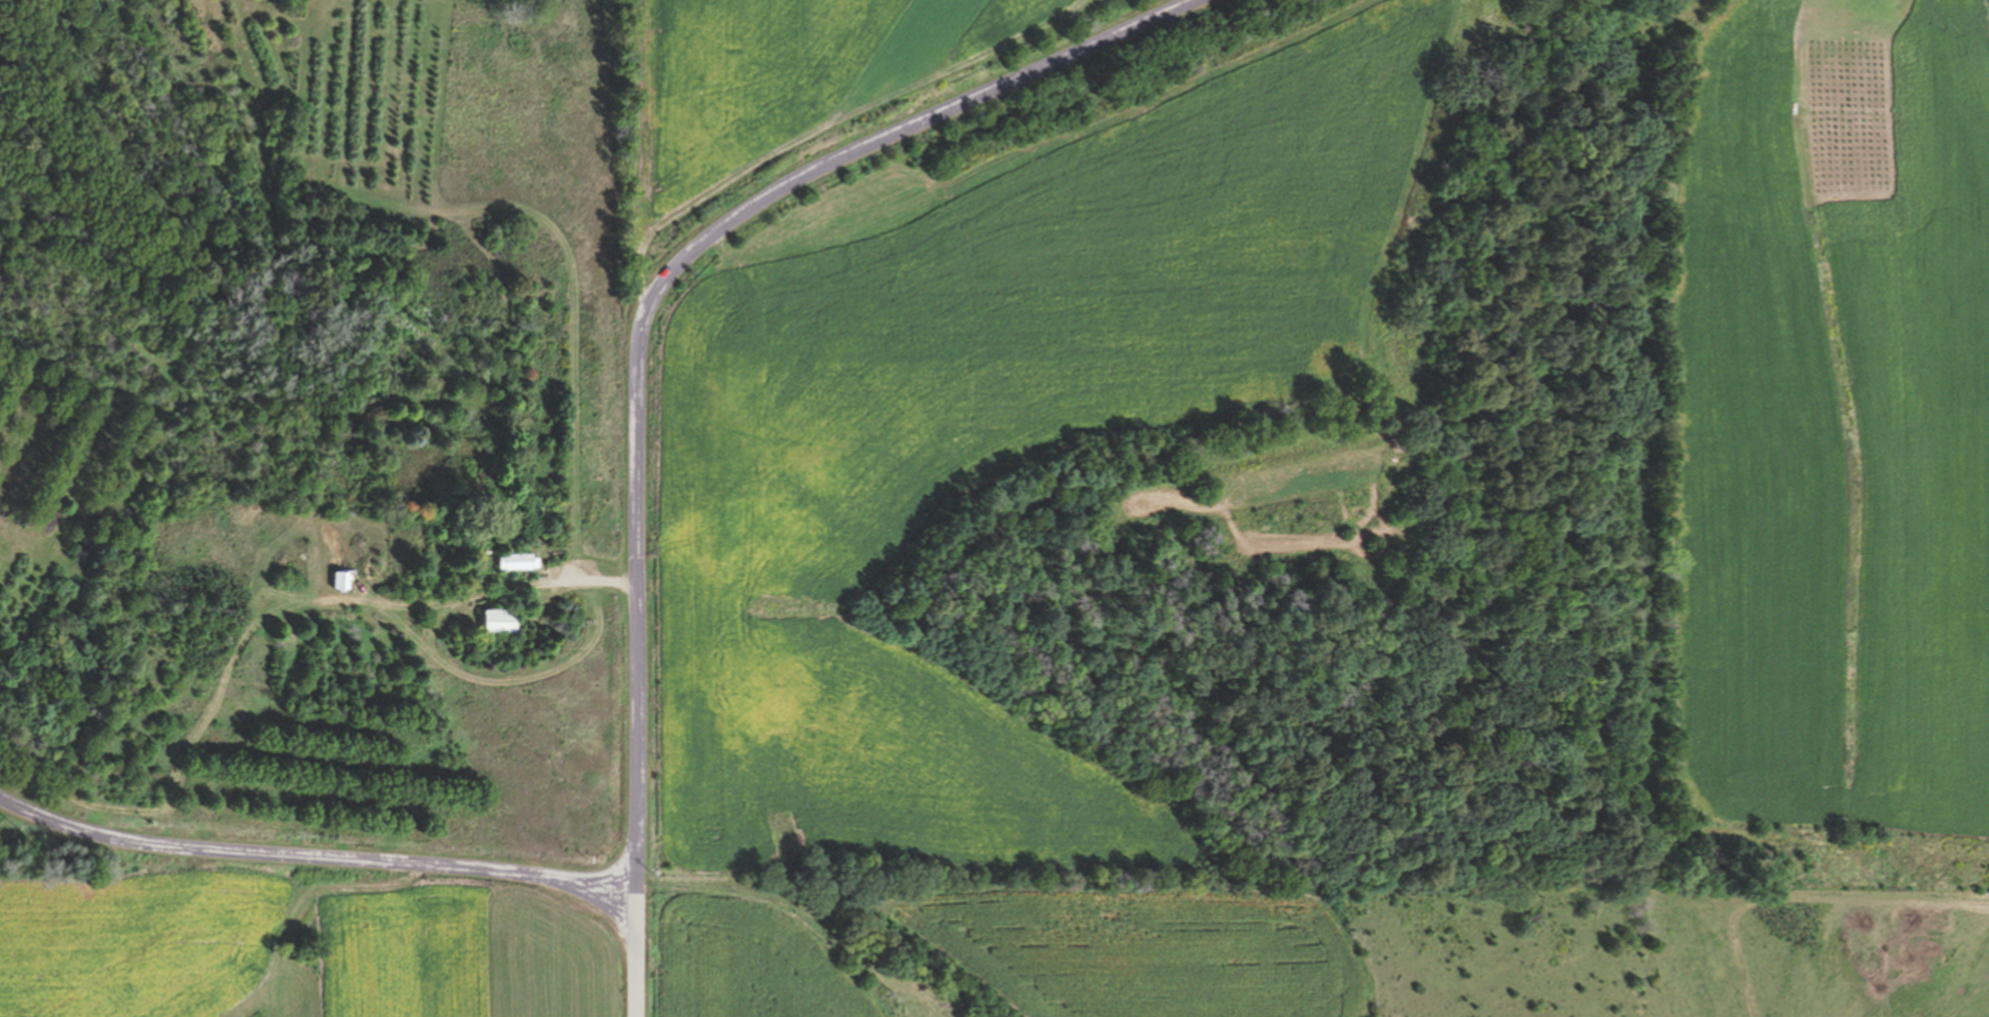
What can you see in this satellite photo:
road: (1909, 2)
road: (636, 344)
building: (521, 562)
building: (418, 583)
building: (503, 621)
road: (316, 851)

